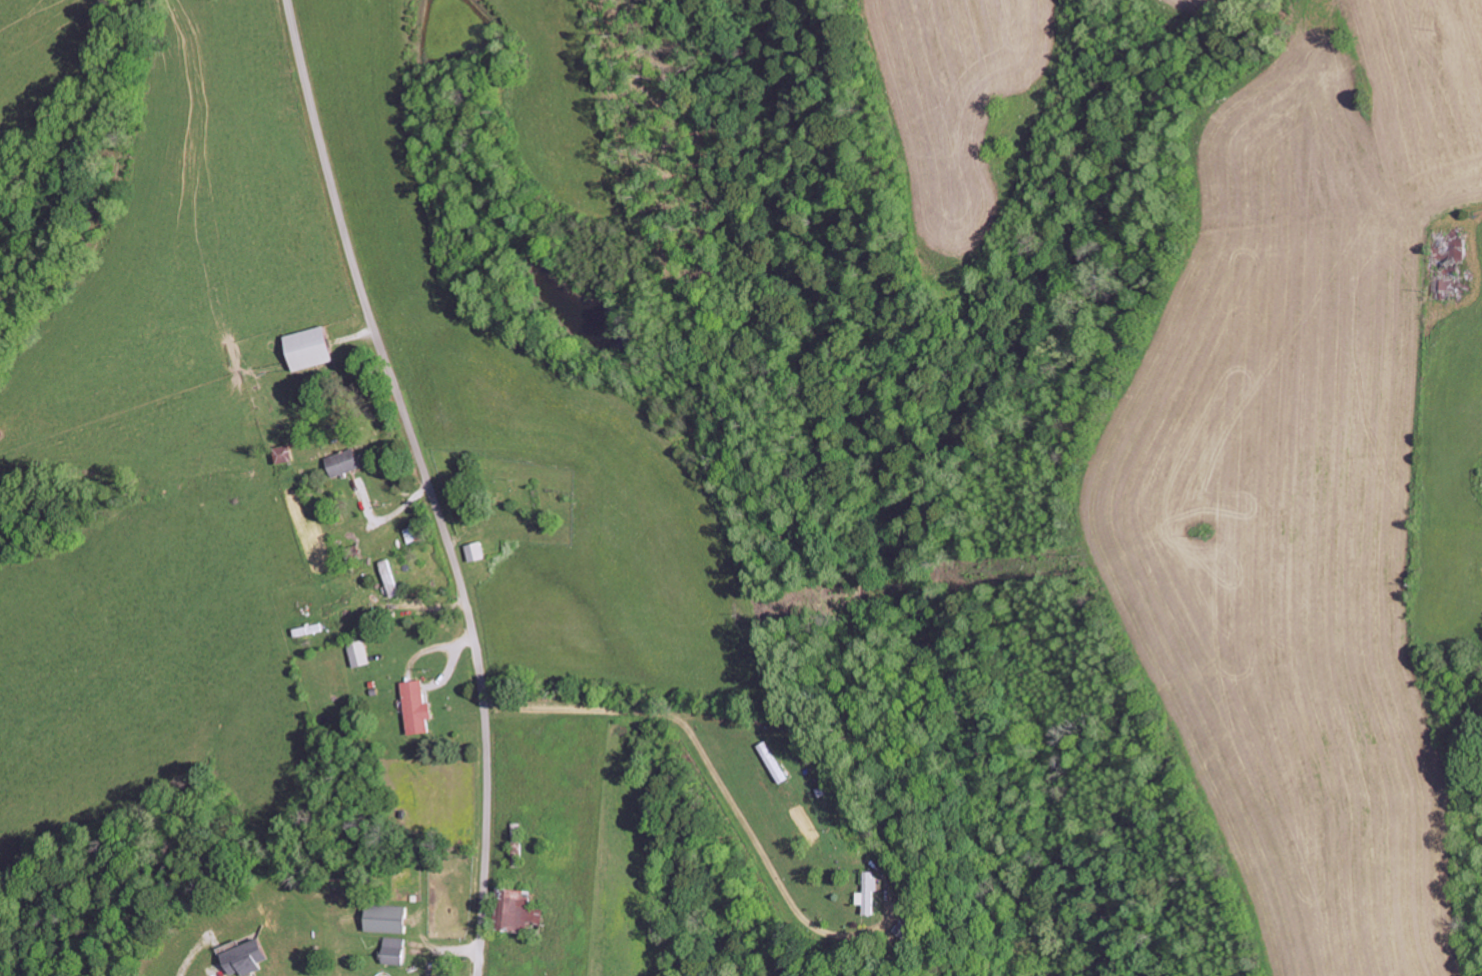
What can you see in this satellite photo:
building: (307, 348)
building: (281, 455)
building: (341, 462)
road: (427, 481)
building: (474, 551)
building: (388, 577)
building: (357, 653)
building: (415, 708)
building: (868, 891)
building: (516, 909)
building: (383, 917)
building: (390, 949)
building: (244, 956)

